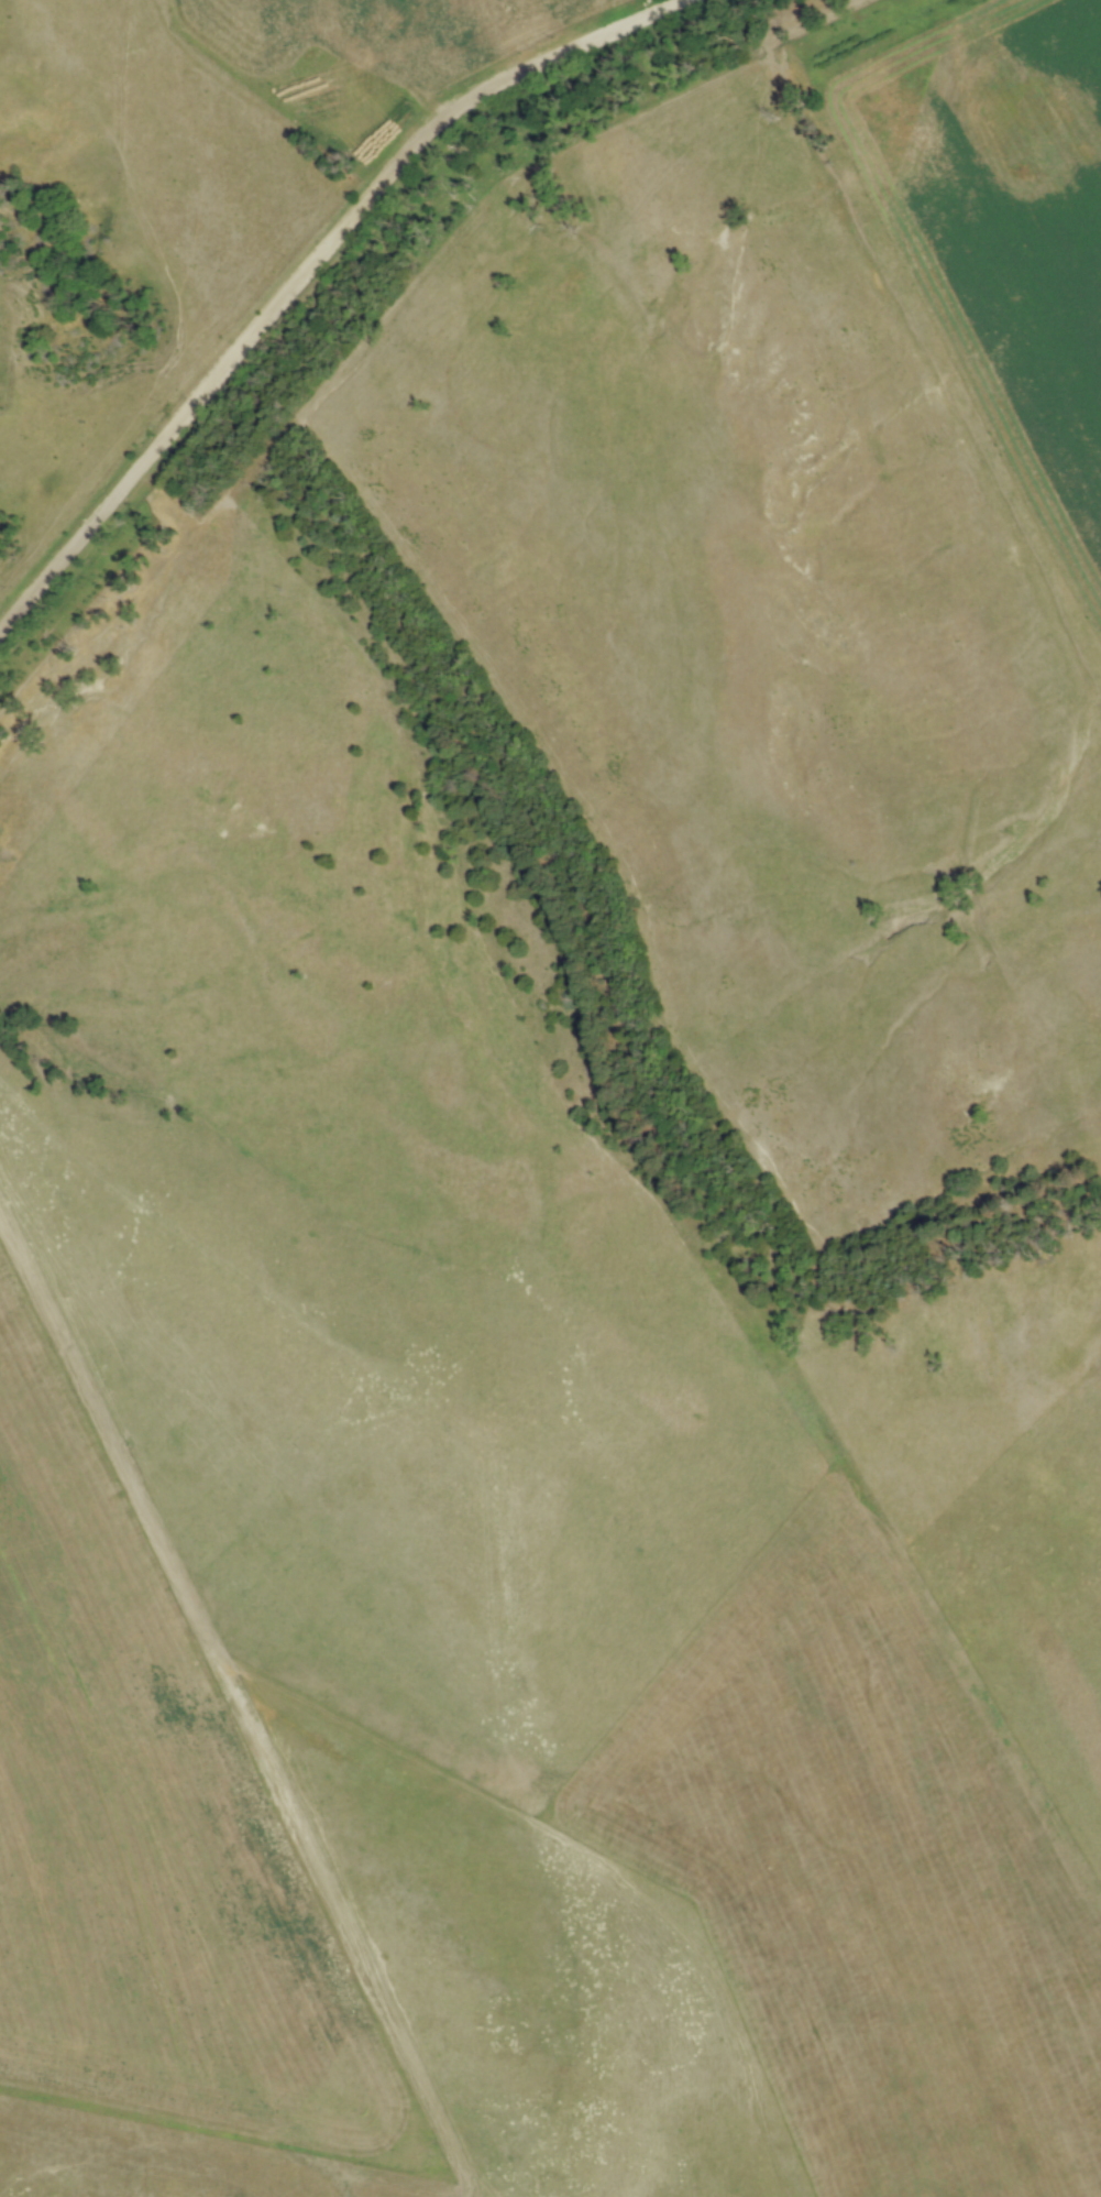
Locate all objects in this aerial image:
road: (306, 271)

